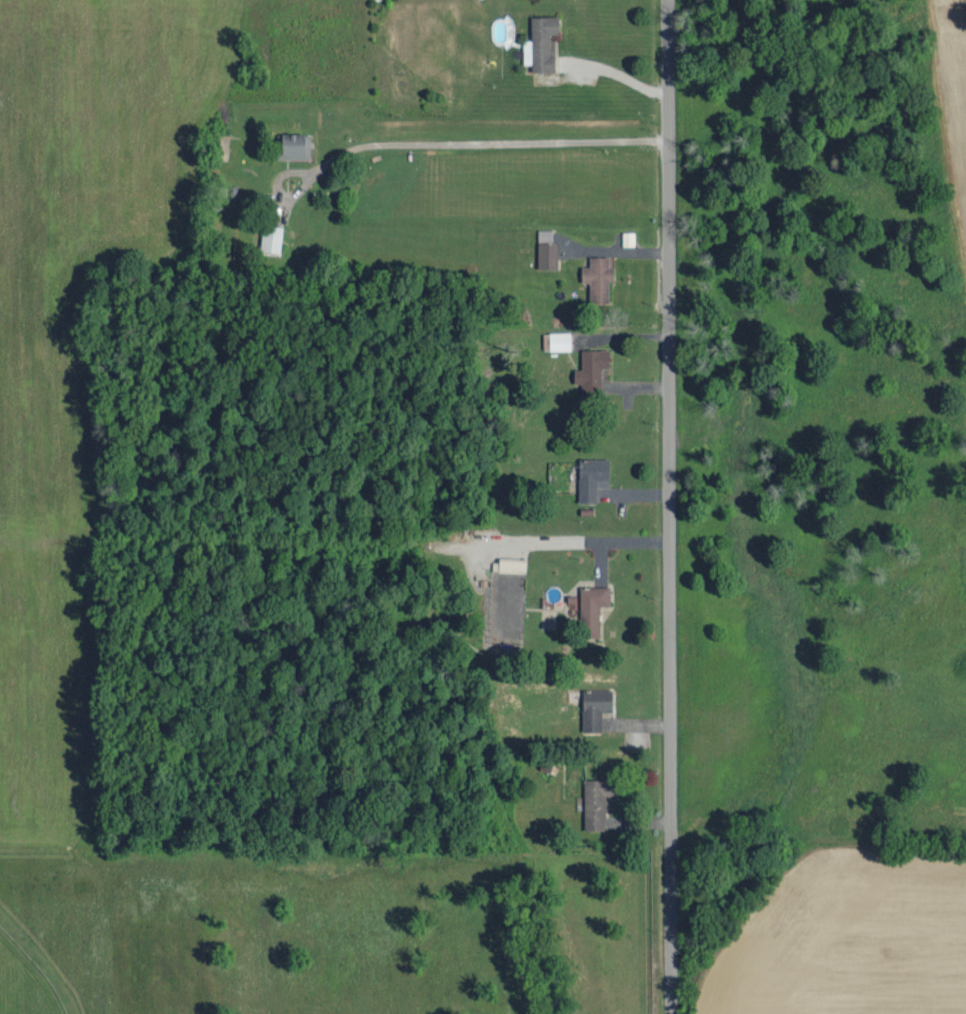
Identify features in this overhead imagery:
building: (542, 43)
building: (296, 146)
road: (438, 170)
building: (273, 237)
building: (629, 237)
building: (547, 250)
building: (599, 278)
building: (558, 340)
building: (593, 370)
building: (592, 476)
road: (669, 507)
building: (513, 564)
building: (593, 608)
building: (596, 707)
building: (597, 802)

